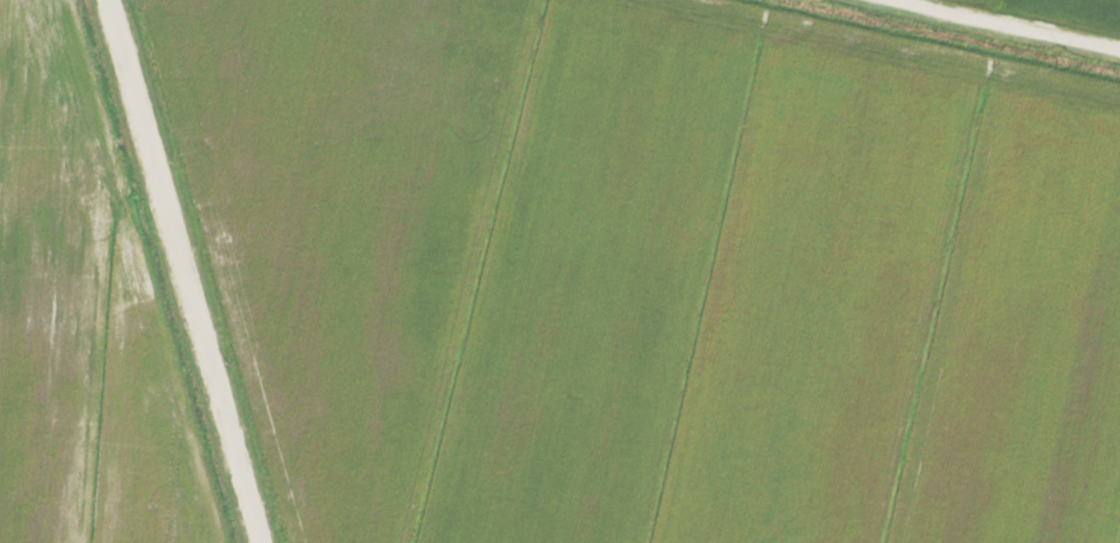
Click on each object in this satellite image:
road: (995, 26)
road: (180, 271)

